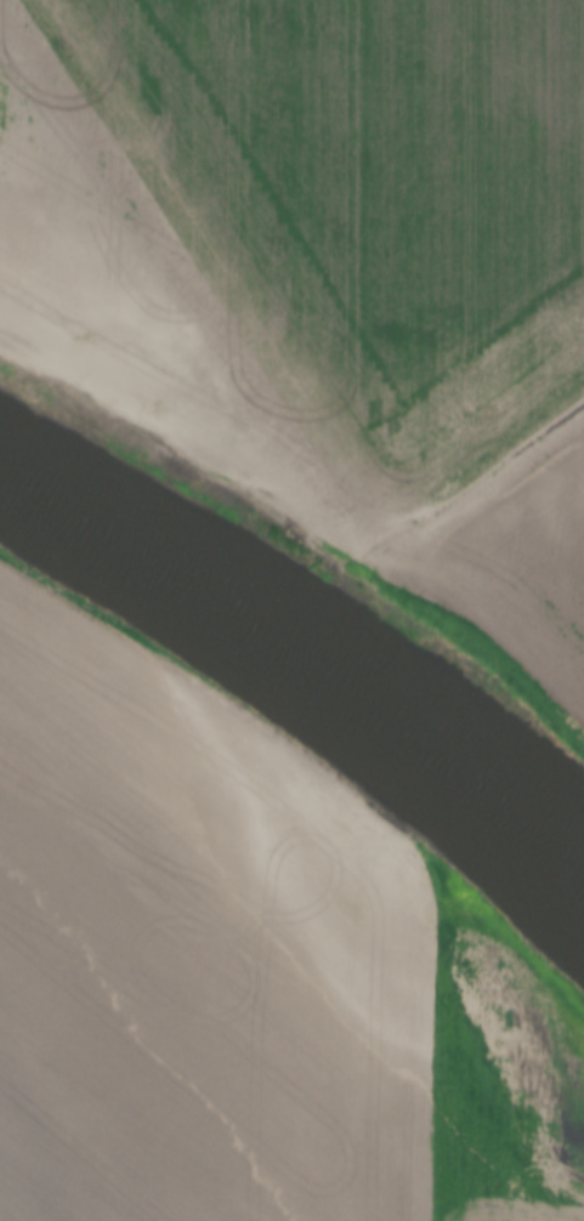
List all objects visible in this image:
river: (308, 658)

